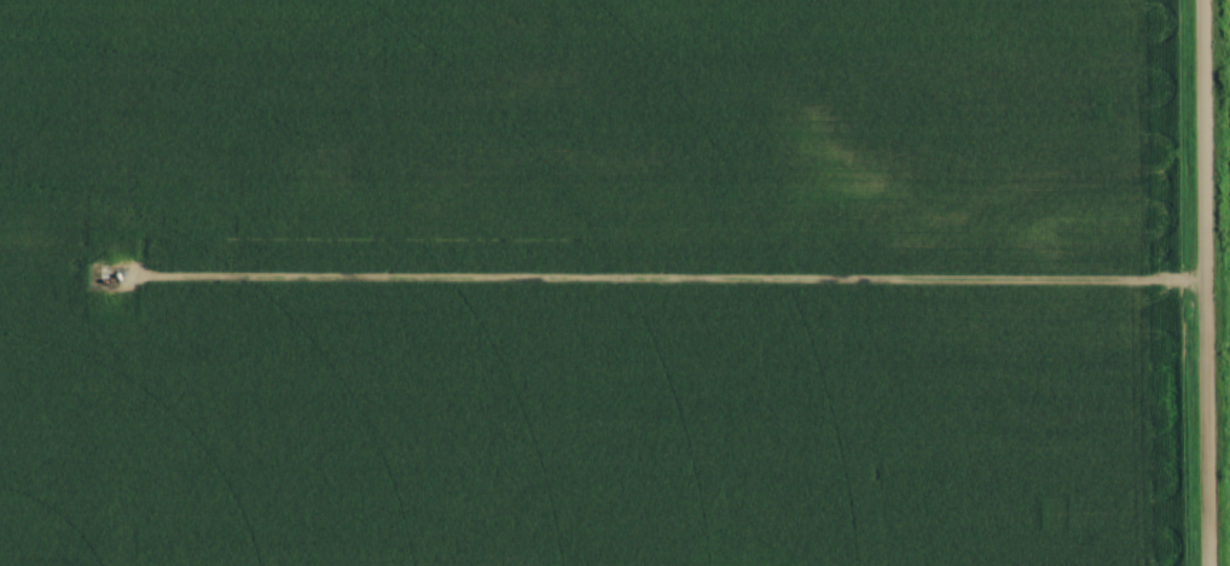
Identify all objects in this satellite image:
road: (1205, 282)

